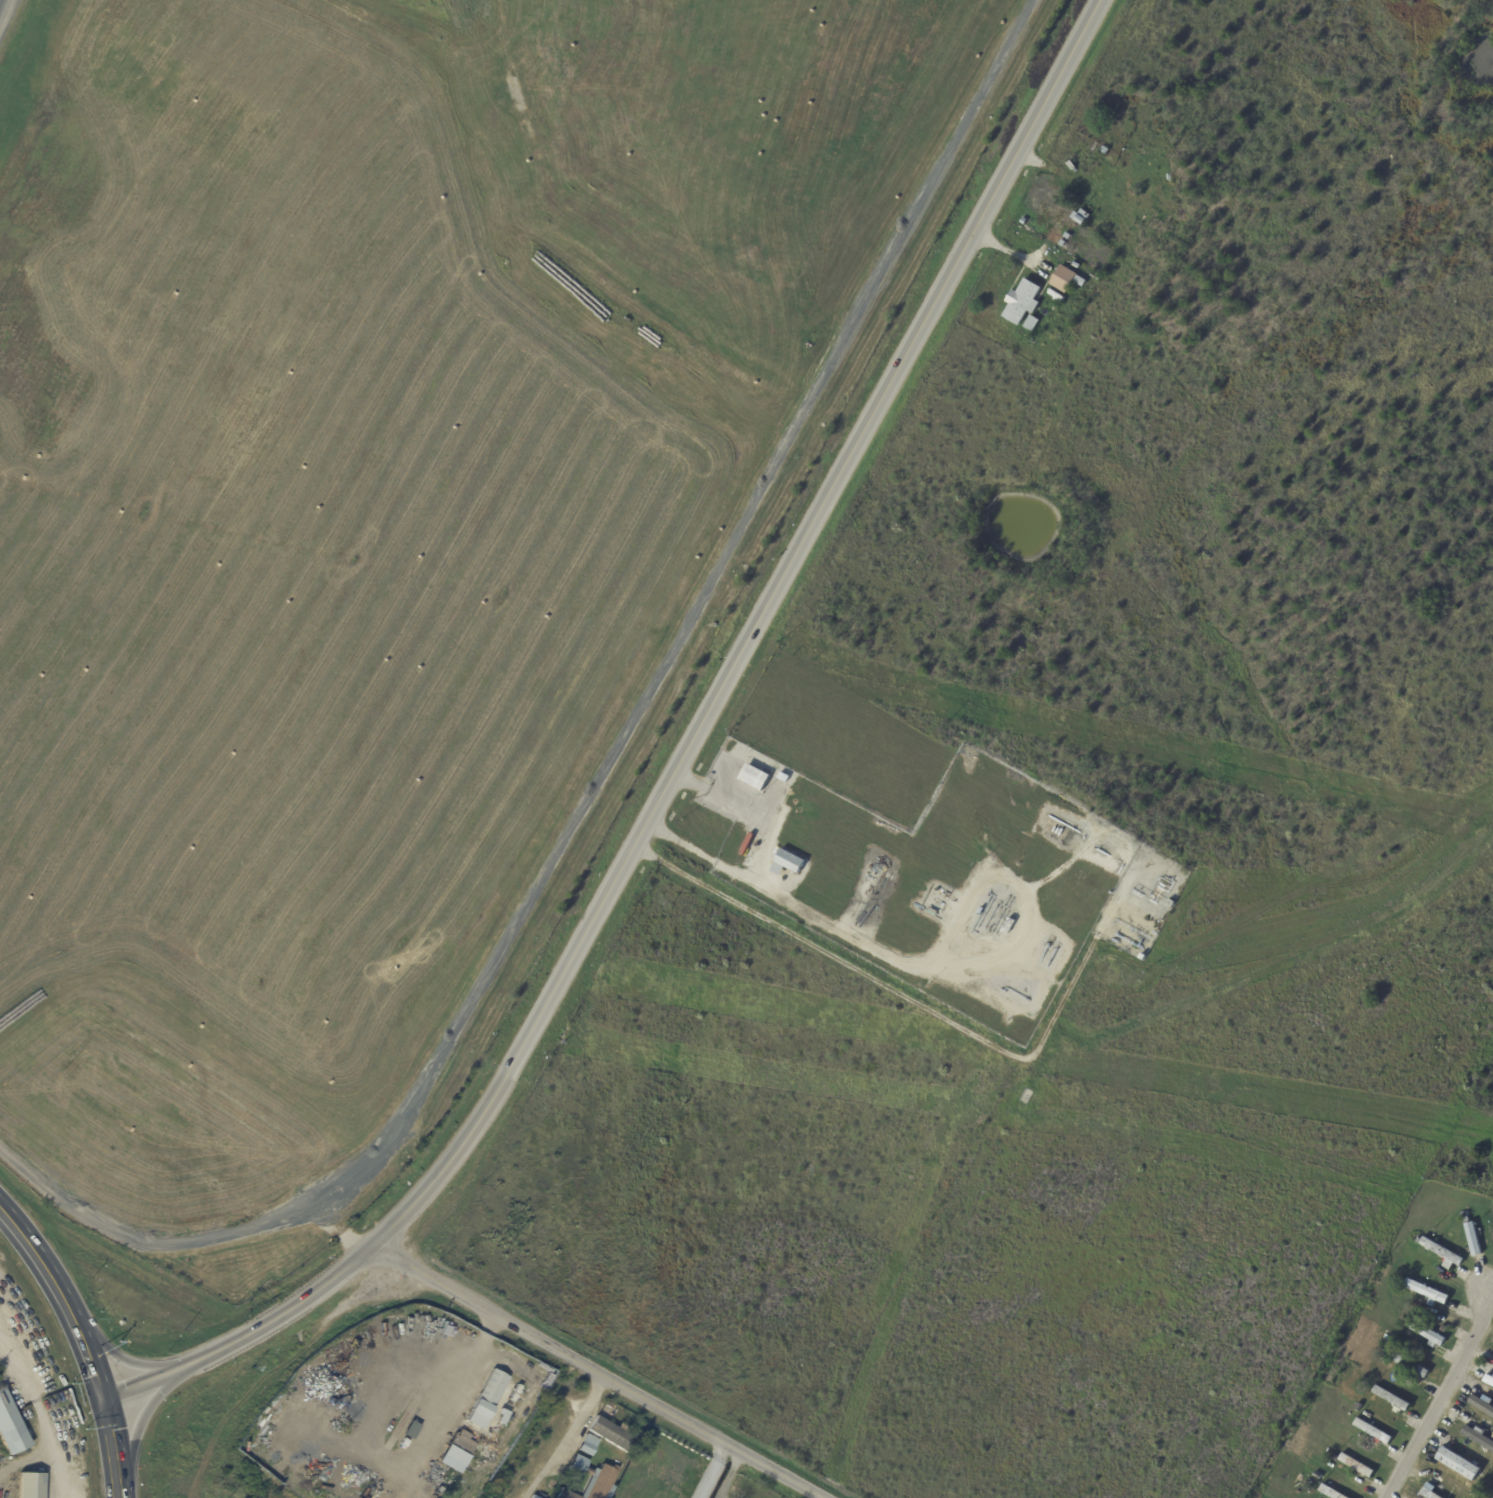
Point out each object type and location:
road: (3, 8)
building: (1104, 150)
building: (1080, 217)
building: (1143, 218)
building: (1067, 237)
building: (1064, 246)
building: (1093, 276)
building: (1063, 279)
building: (1079, 281)
building: (1021, 302)
building: (1031, 324)
landfill: (380, 510)
road: (708, 590)
road: (752, 632)
building: (754, 778)
building: (784, 779)
road: (760, 856)
building: (787, 863)
building: (938, 903)
building: (1170, 904)
building: (1007, 926)
building: (1142, 957)
building: (1466, 1220)
building: (1473, 1239)
road: (176, 1241)
building: (1418, 1241)
building: (1442, 1254)
road: (43, 1267)
building: (1401, 1283)
building: (1426, 1292)
road: (281, 1313)
building: (1442, 1330)
building: (1428, 1335)
building: (1390, 1342)
road: (126, 1363)
building: (1407, 1364)
road: (90, 1366)
road: (599, 1371)
building: (1378, 1379)
building: (1487, 1381)
road: (142, 1384)
building: (1392, 1400)
road: (1439, 1402)
building: (1480, 1406)
building: (491, 1408)
building: (1358, 1408)
road: (39, 1413)
building: (10, 1427)
road: (139, 1427)
building: (1373, 1433)
building: (612, 1434)
road: (567, 1437)
building: (1477, 1438)
building: (587, 1446)
building: (458, 1447)
road: (111, 1448)
road: (29, 1459)
building: (1334, 1459)
building: (1457, 1463)
building: (1356, 1466)
road: (715, 1470)
road: (729, 1474)
building: (1316, 1477)
building: (590, 1479)
building: (30, 1485)
building: (1427, 1491)
building: (1330, 1492)
building: (533, 1496)

